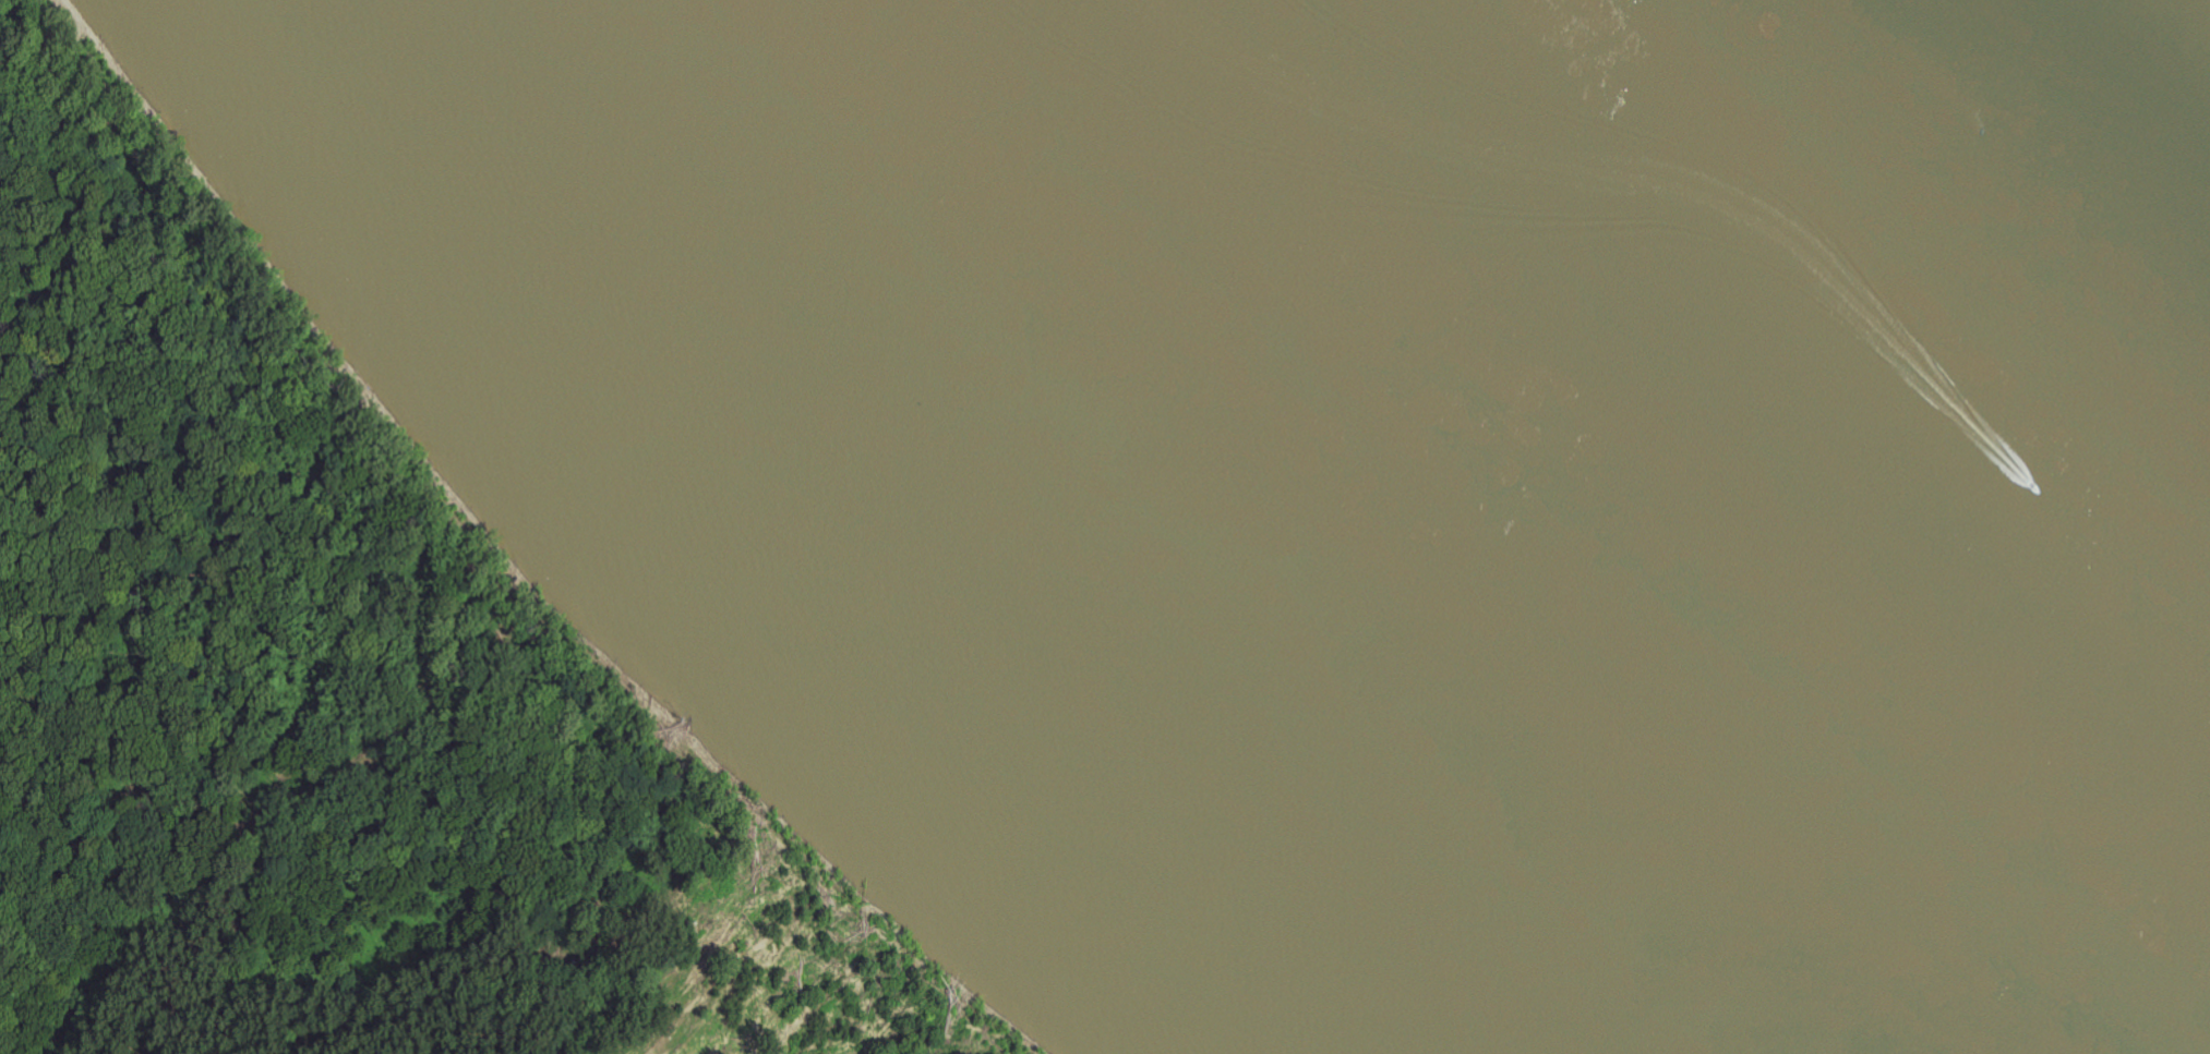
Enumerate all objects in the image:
river: (1727, 455)

